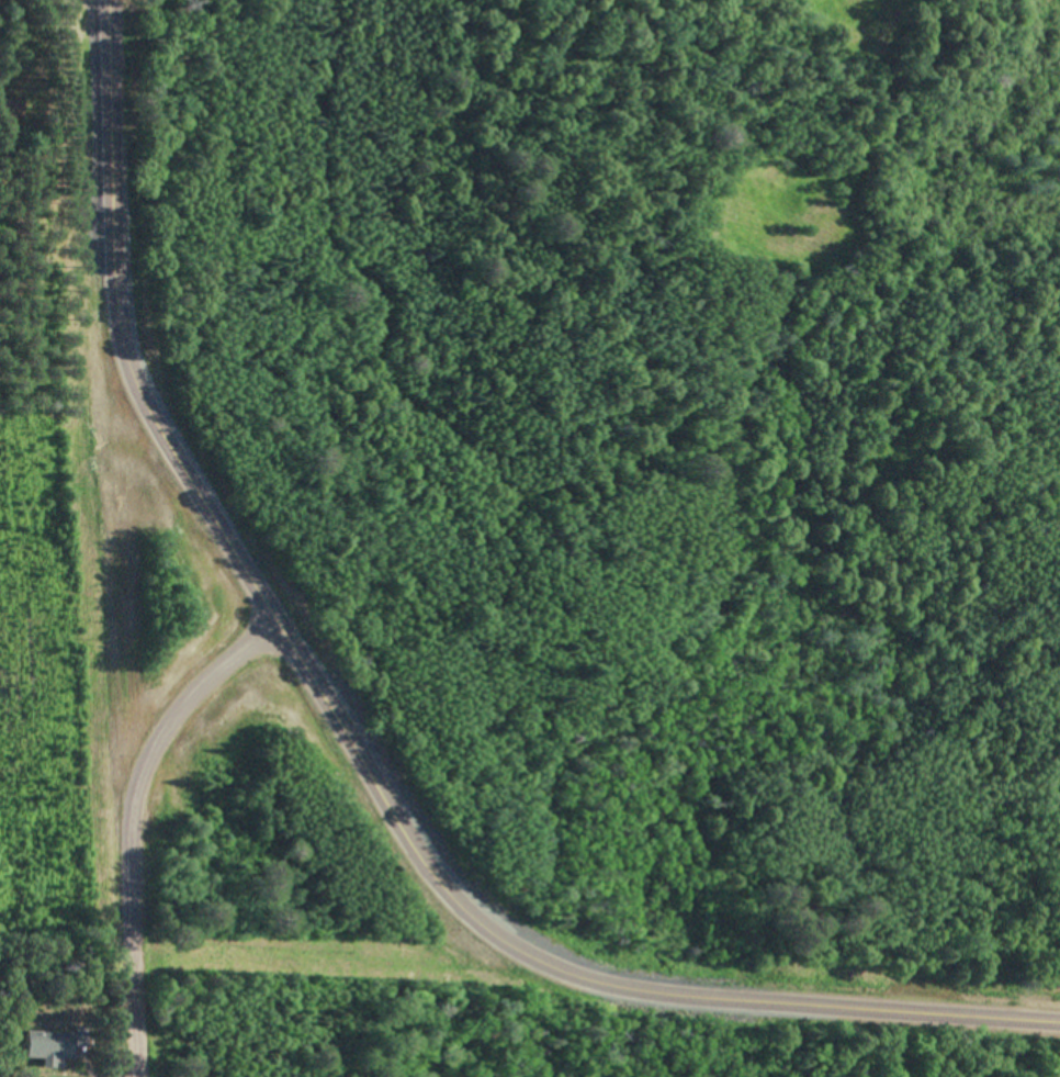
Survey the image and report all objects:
road: (92, 12)
road: (123, 672)
road: (357, 747)
building: (53, 1044)

